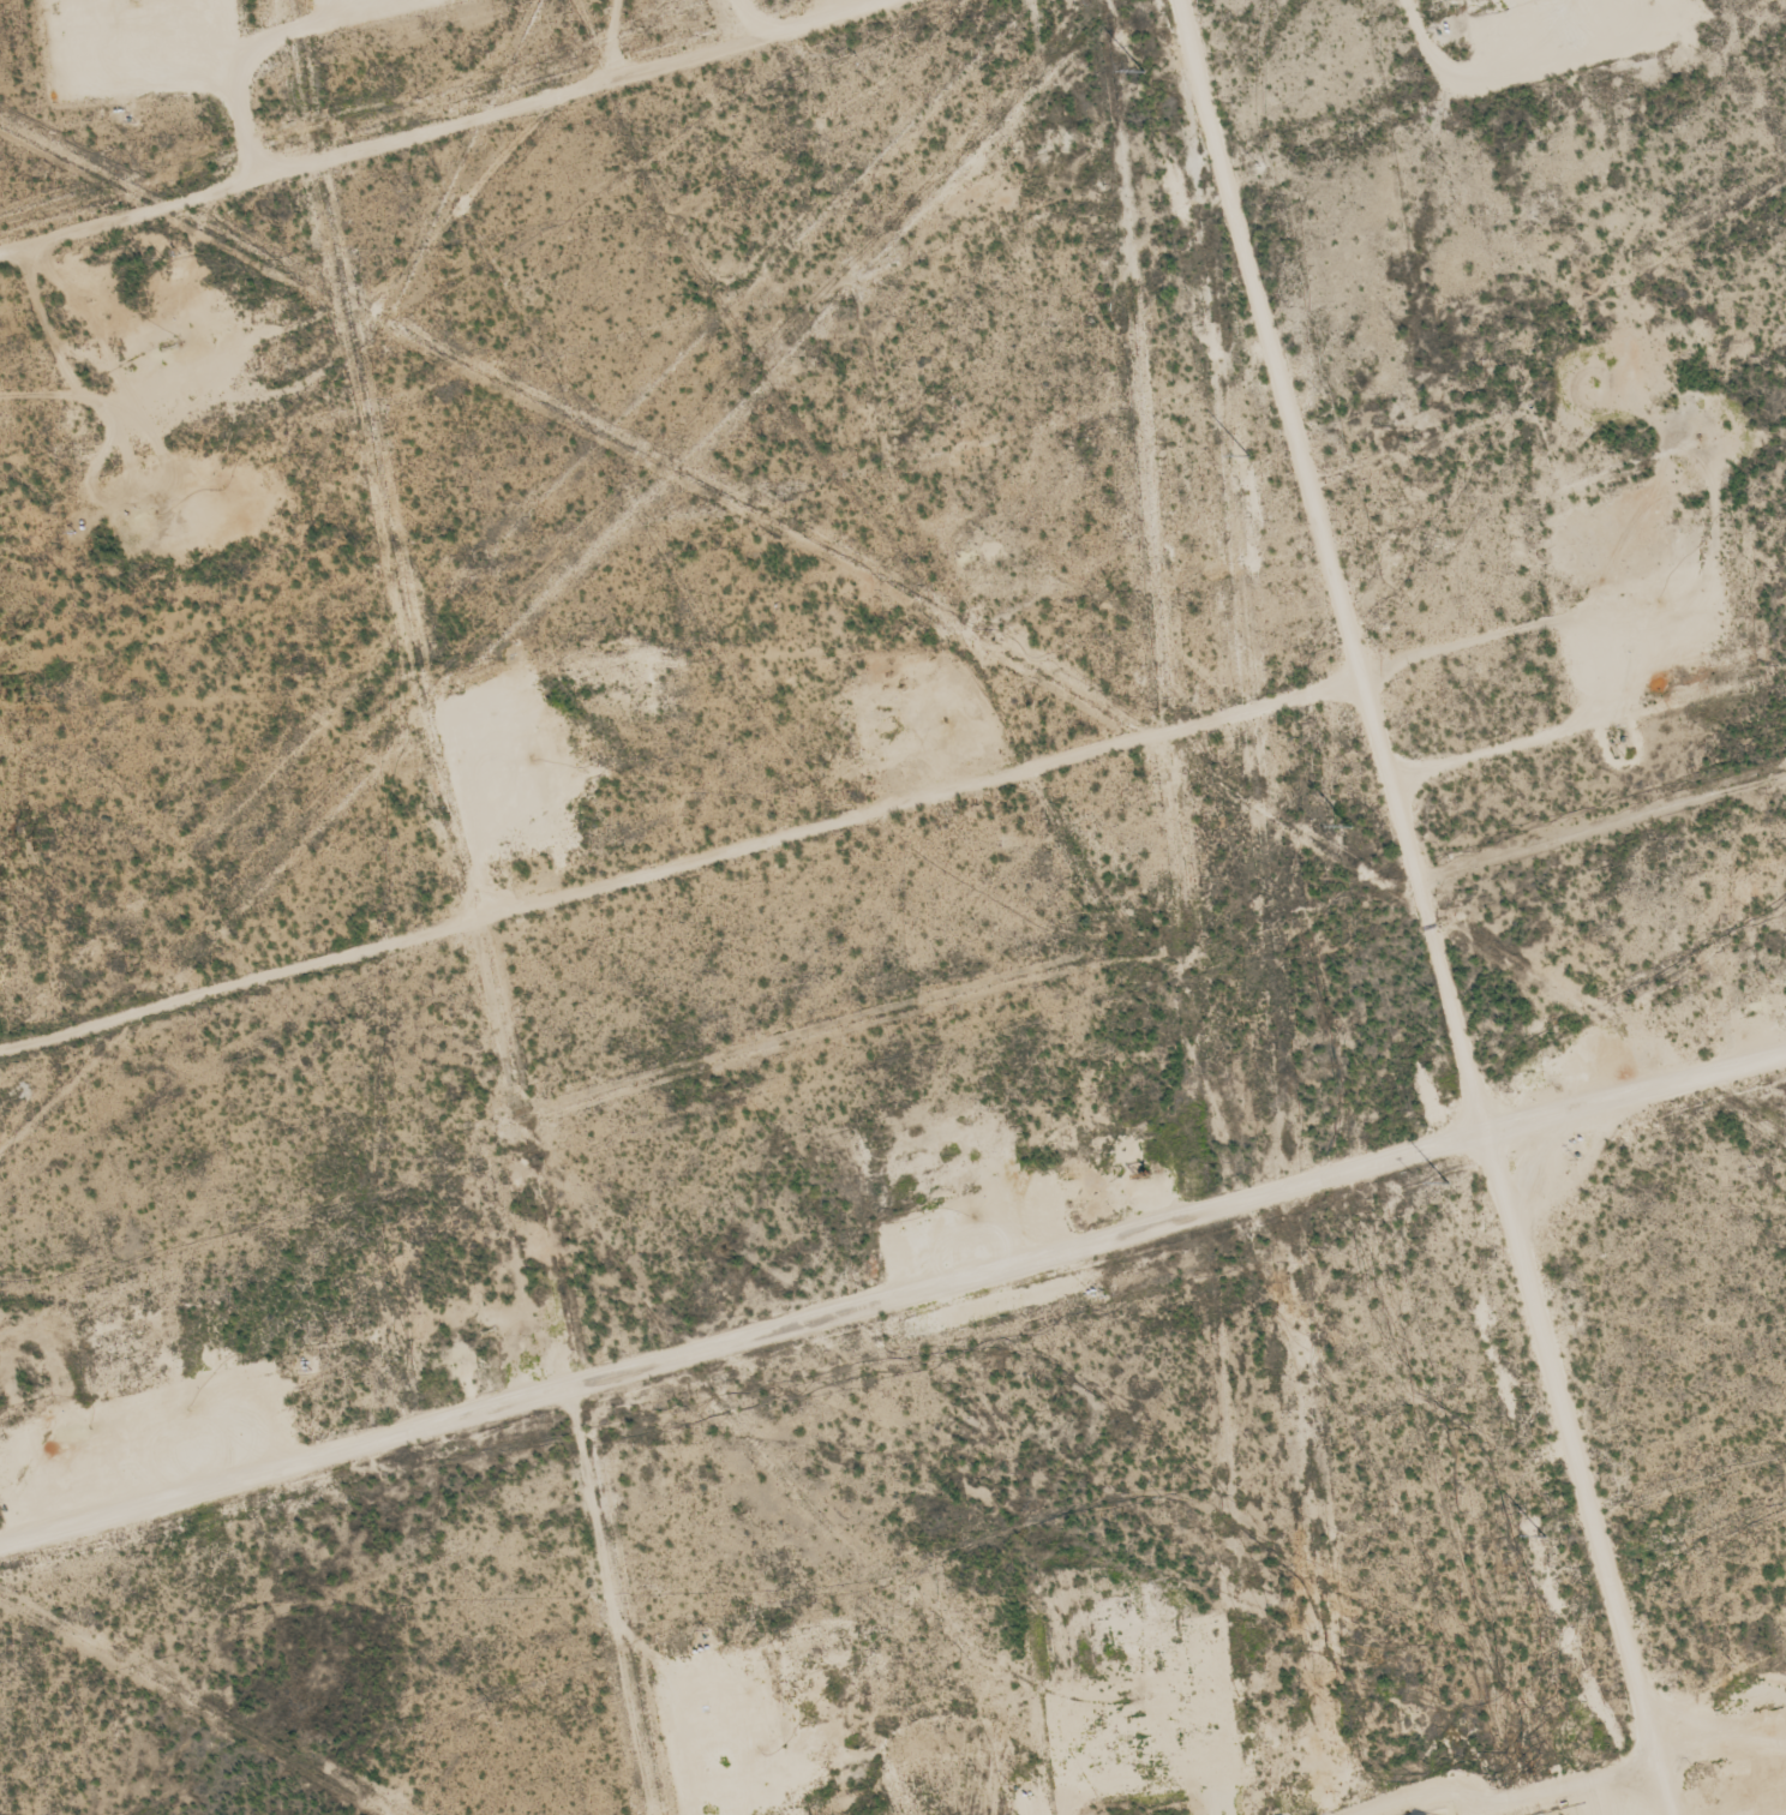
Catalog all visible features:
power tower: (1145, 65)
road: (426, 130)
power tower: (1252, 451)
power tower: (1350, 820)
road: (659, 877)
road: (1380, 909)
power tower: (1449, 1180)
road: (892, 1296)
power tower: (1547, 1531)

